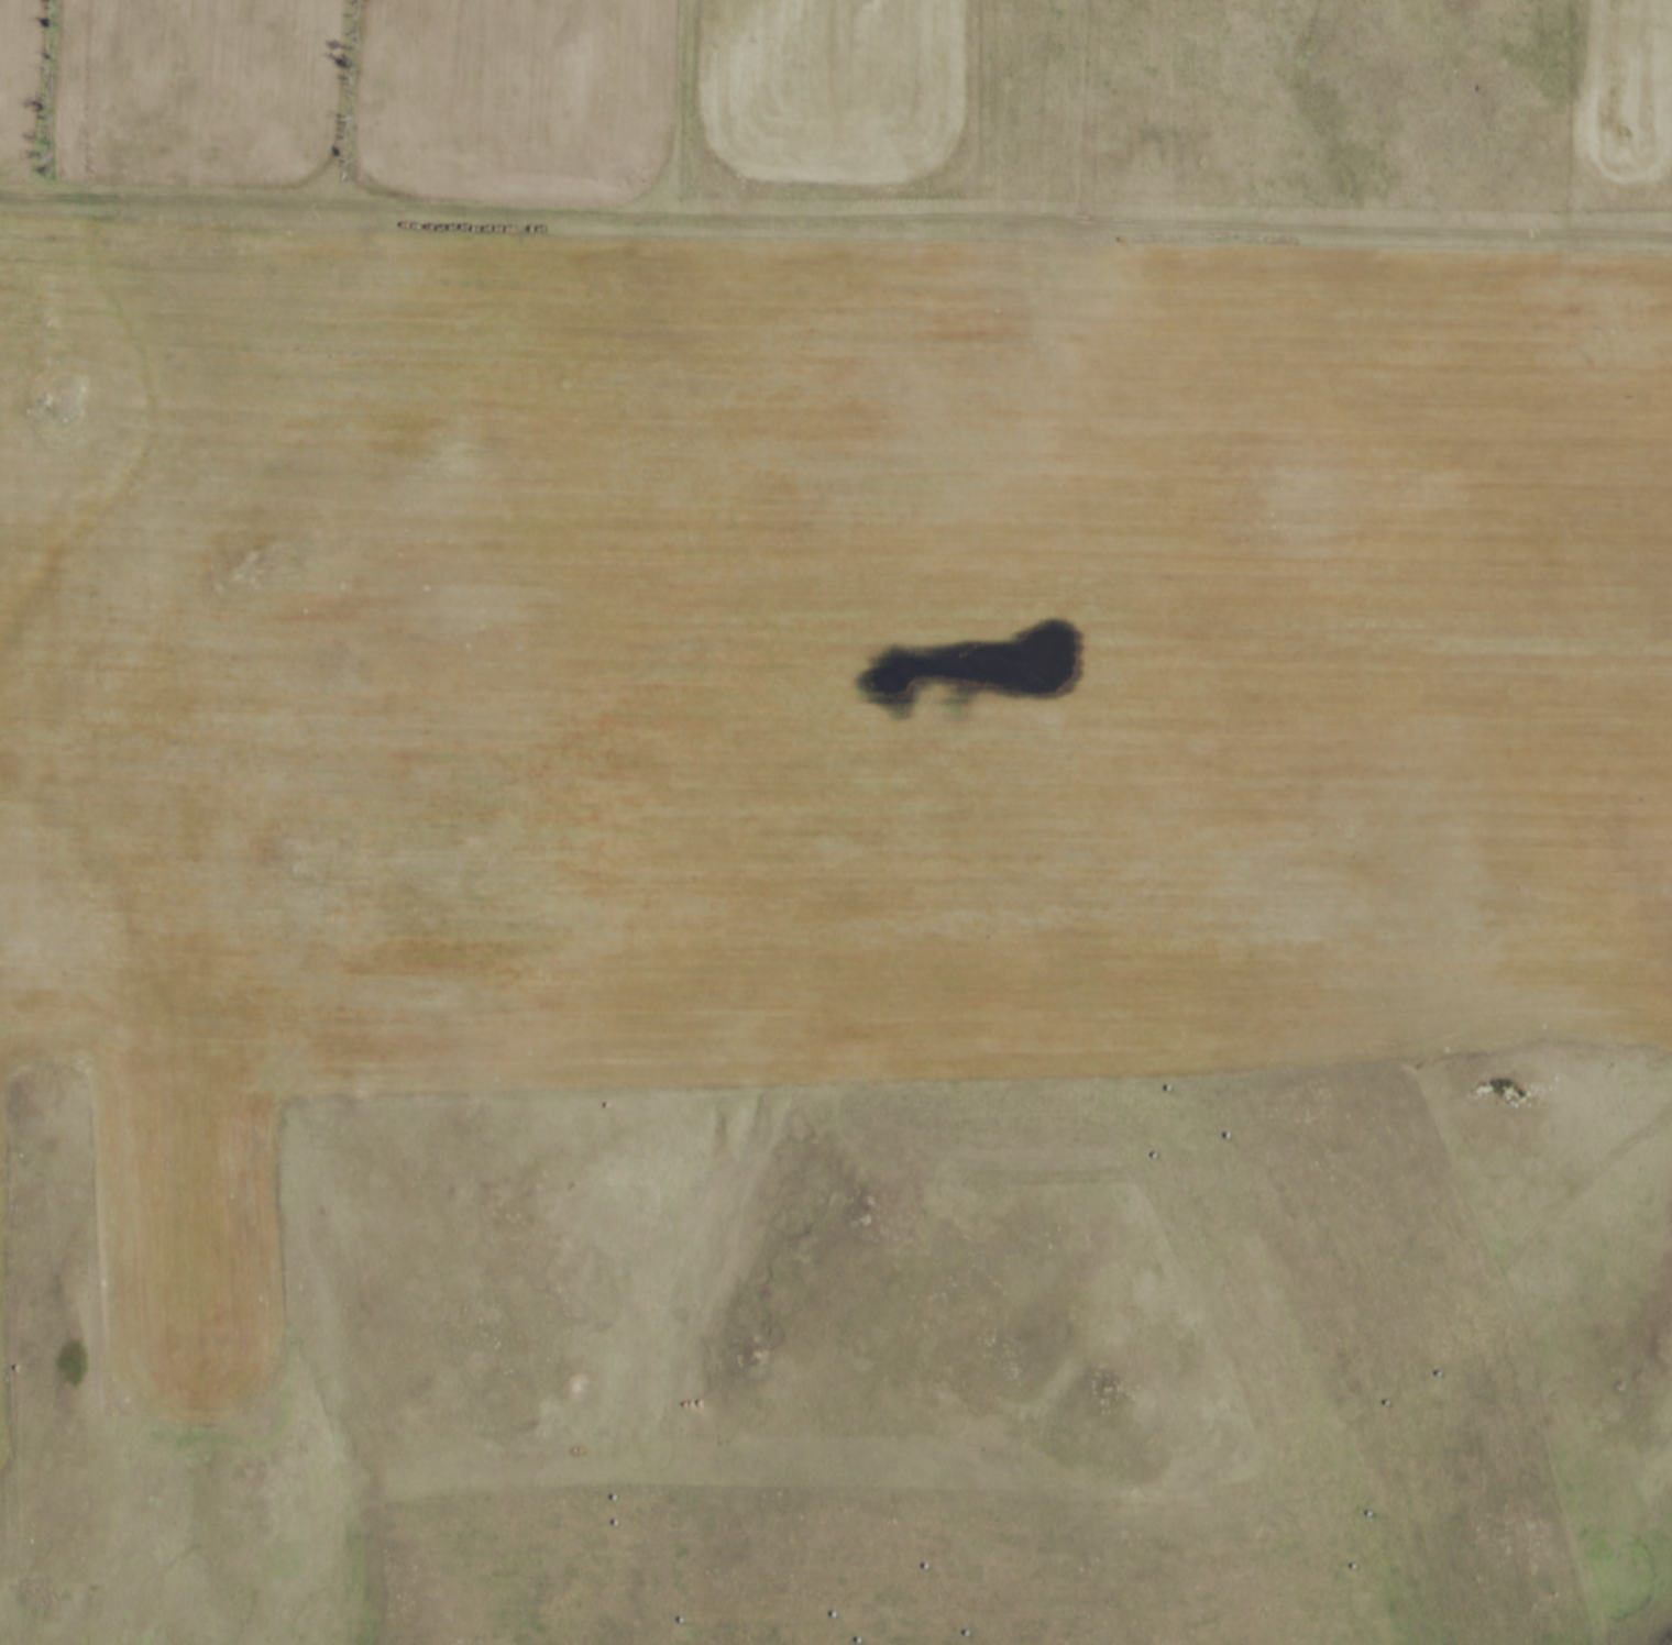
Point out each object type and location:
road: (836, 218)
road: (430, 1449)

